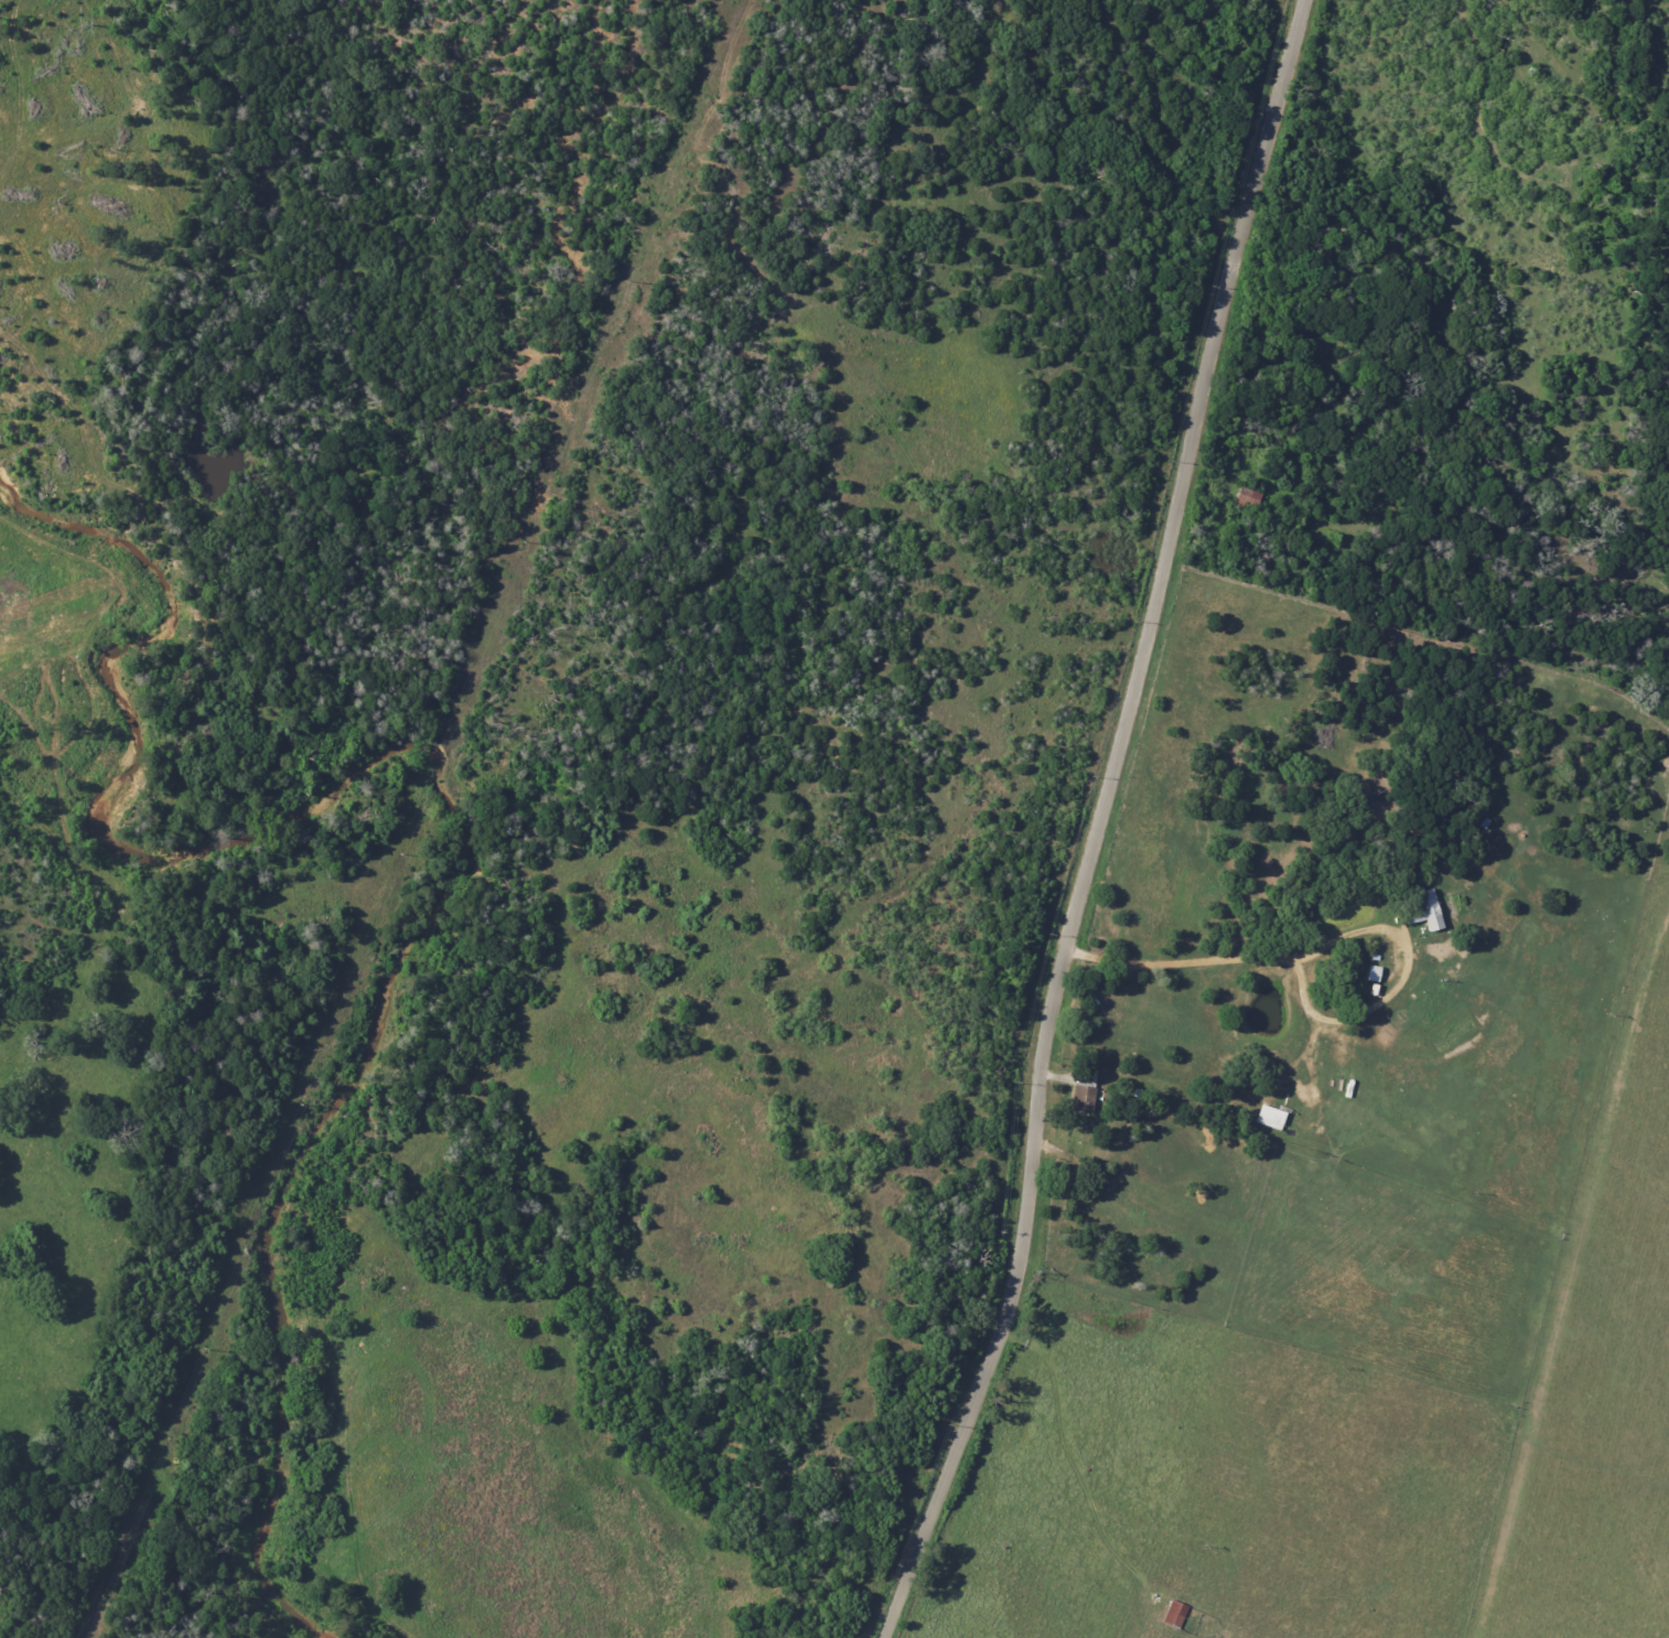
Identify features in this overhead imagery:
road: (1099, 822)
building: (1429, 910)
road: (1336, 942)
building: (1085, 1098)
building: (1272, 1117)
building: (1176, 1613)

